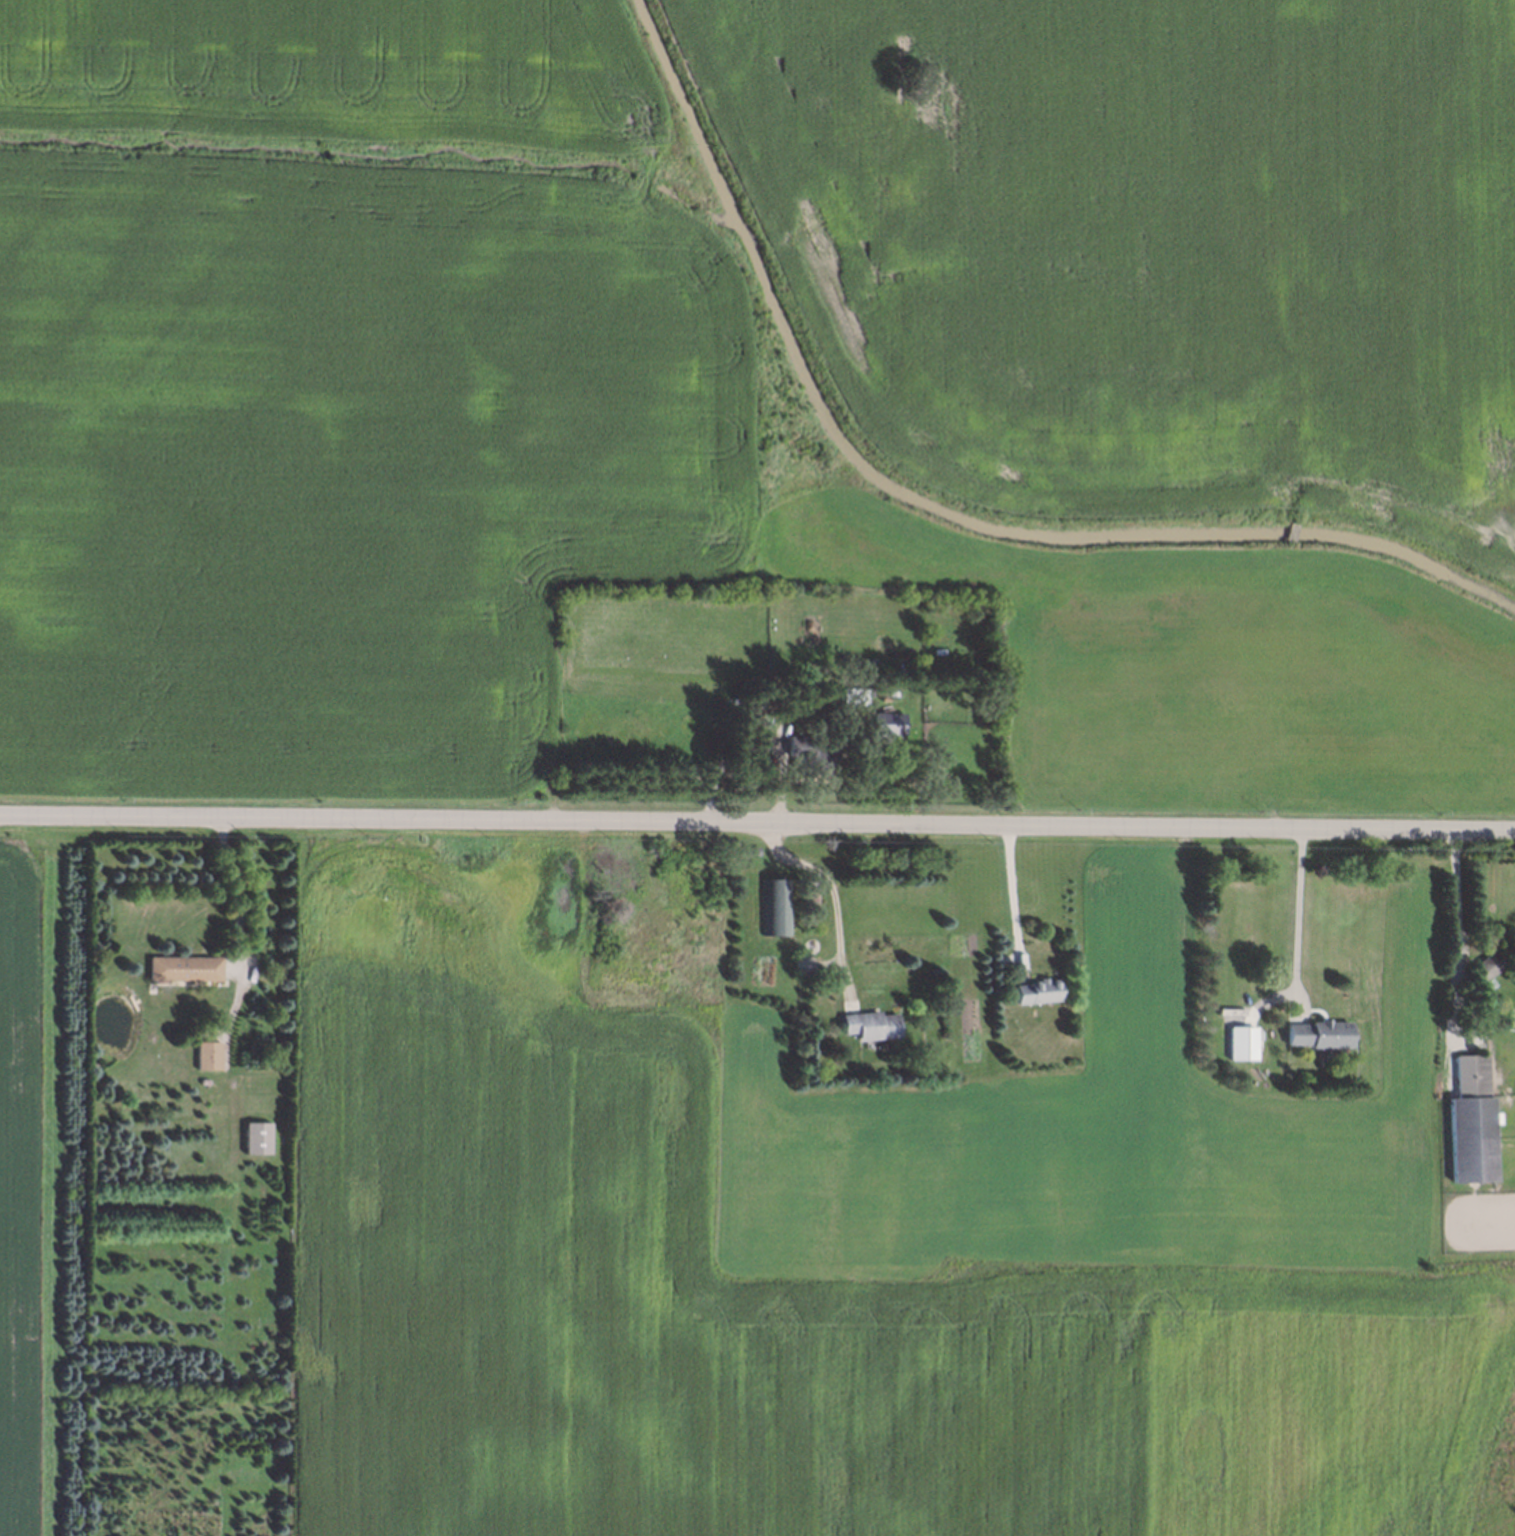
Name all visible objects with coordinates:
building: (849, 694)
building: (884, 723)
building: (865, 745)
building: (810, 752)
road: (757, 820)
road: (238, 890)
road: (1012, 892)
road: (833, 893)
building: (775, 907)
road: (1299, 912)
road: (1458, 921)
building: (1489, 965)
building: (186, 970)
building: (1037, 992)
building: (871, 1025)
building: (1318, 1034)
building: (1247, 1043)
building: (209, 1056)
building: (1470, 1122)
building: (258, 1138)

